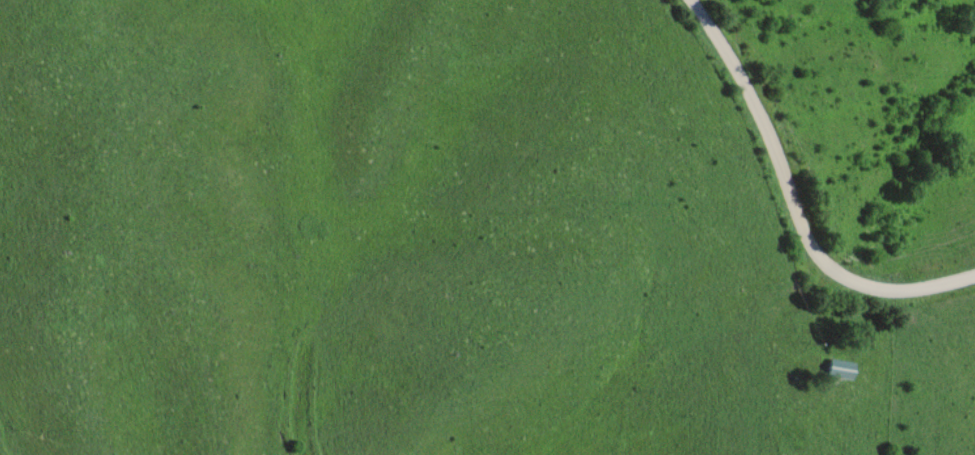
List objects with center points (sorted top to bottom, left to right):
road: (791, 205)
building: (834, 370)

